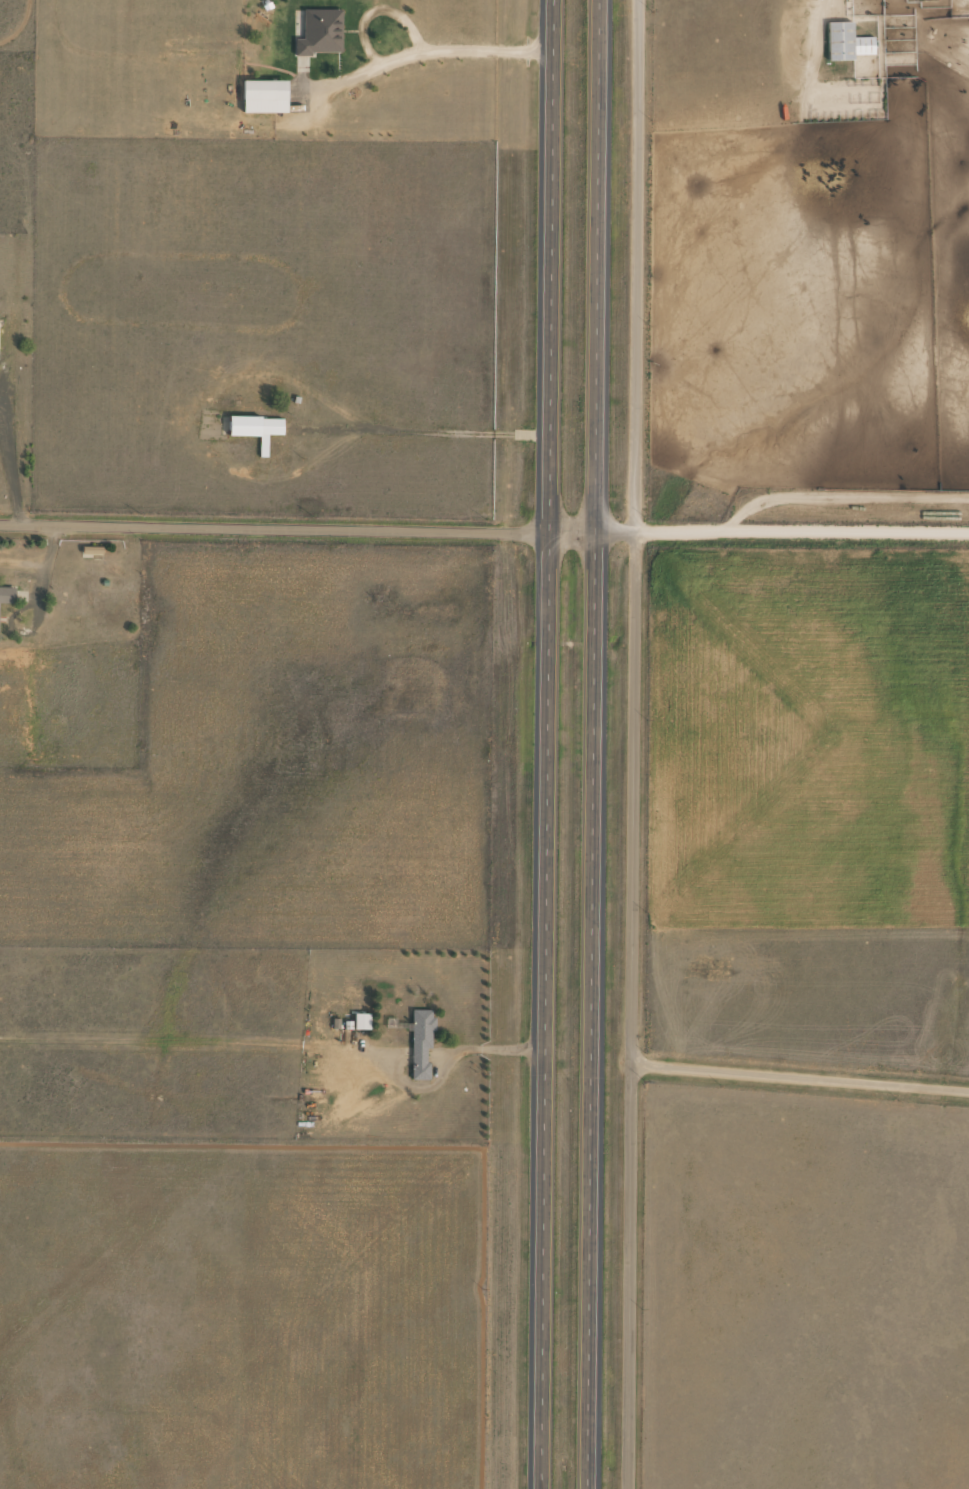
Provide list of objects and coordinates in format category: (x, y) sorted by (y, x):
building: (320, 33)
building: (846, 43)
building: (264, 98)
building: (256, 429)
road: (484, 530)
building: (7, 595)
road: (540, 744)
road: (586, 744)
building: (362, 1022)
building: (421, 1043)
road: (776, 1091)

